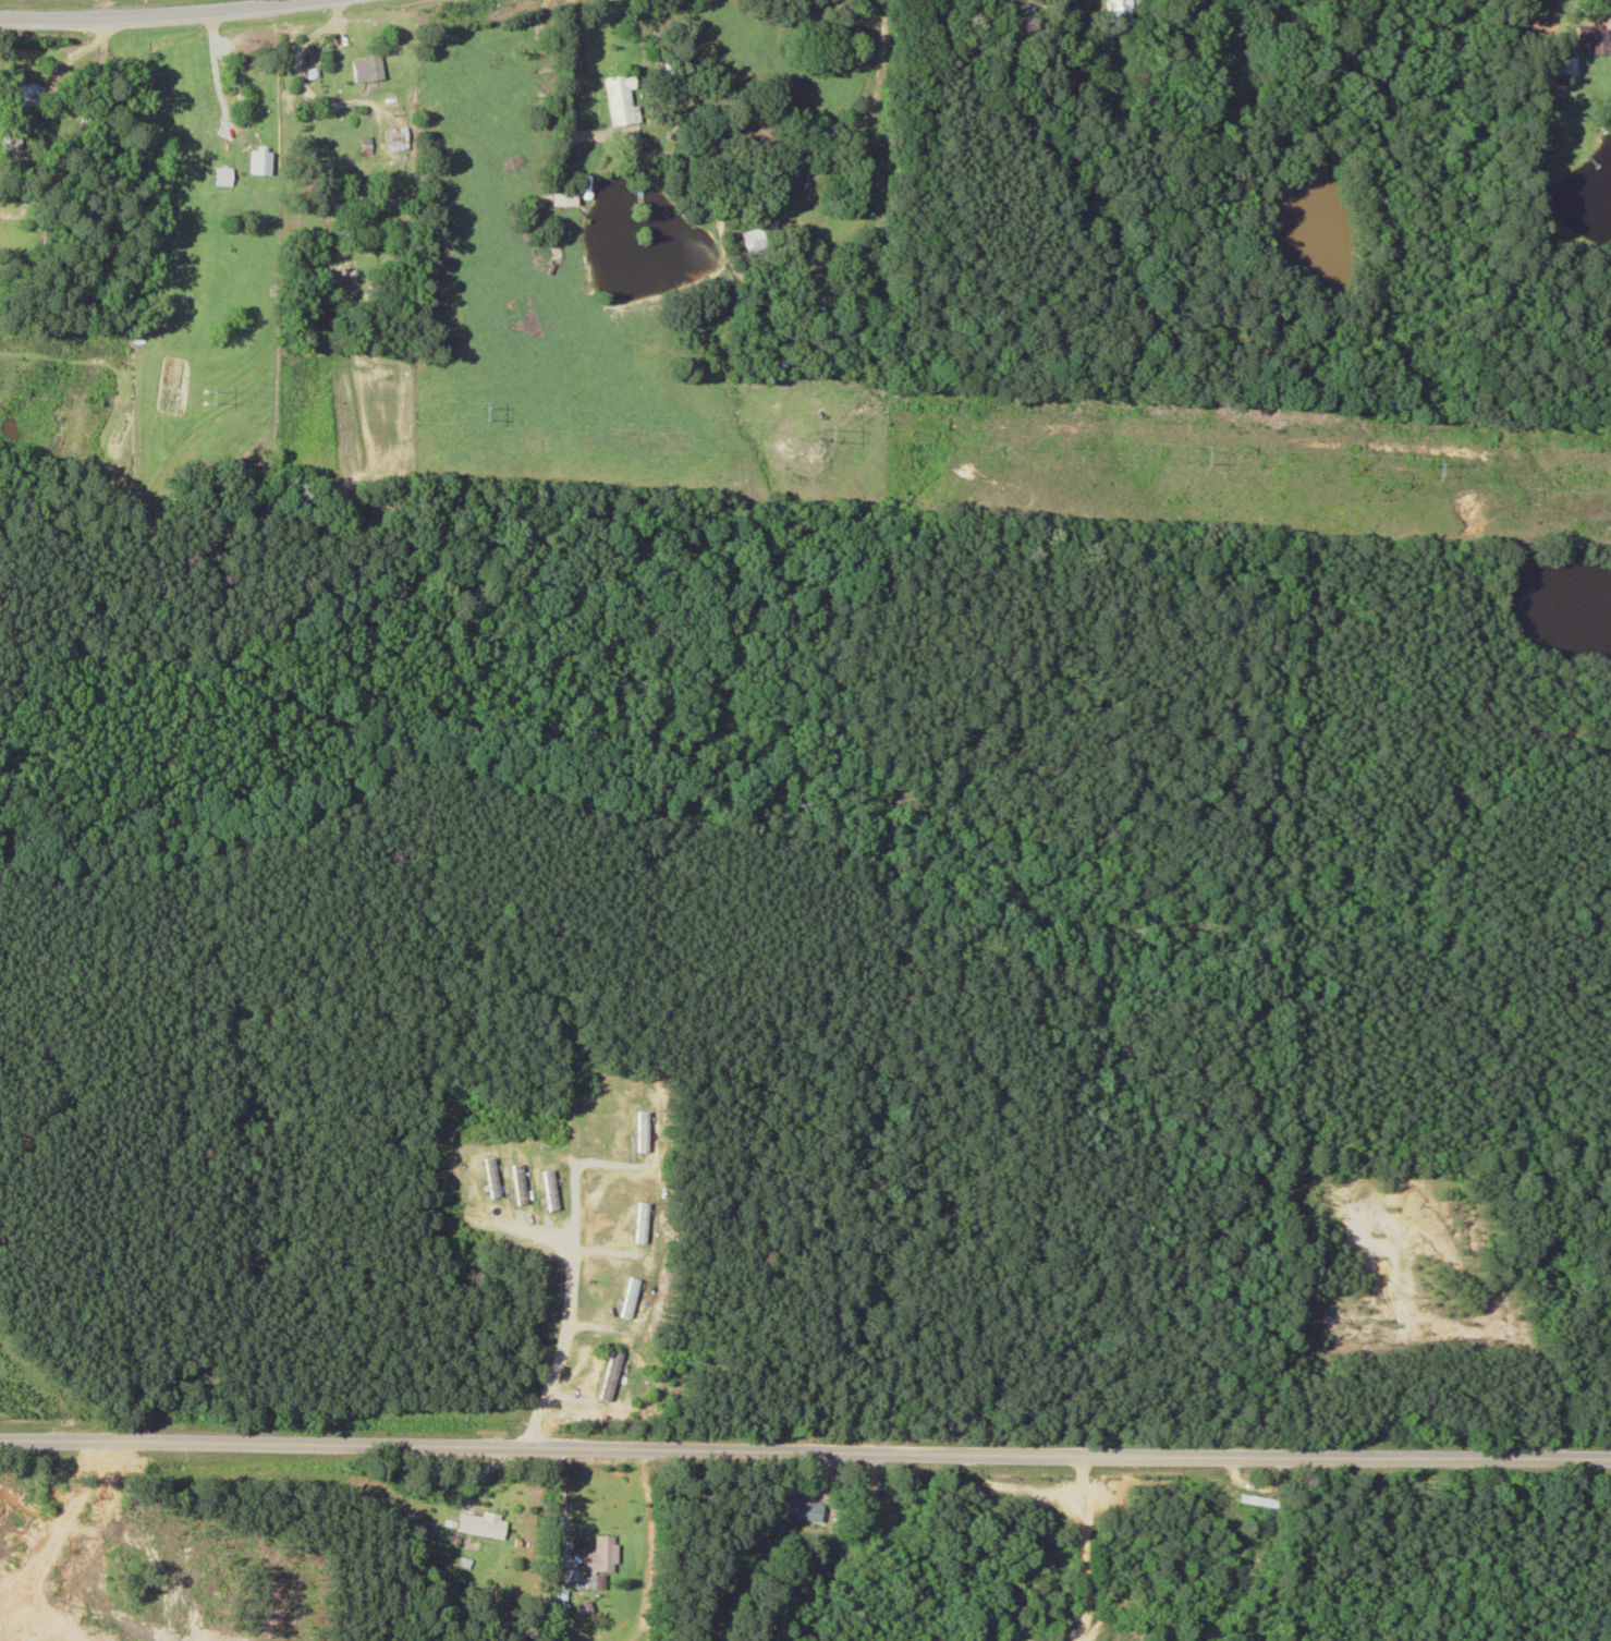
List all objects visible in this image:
road: (148, 13)
building: (1120, 14)
building: (1591, 39)
building: (668, 65)
building: (1563, 66)
building: (367, 69)
building: (25, 94)
building: (621, 100)
building: (396, 139)
building: (265, 158)
building: (696, 167)
building: (222, 177)
building: (564, 199)
building: (760, 238)
building: (610, 1375)
road: (805, 1431)
building: (792, 1510)
building: (1258, 1518)
building: (490, 1525)
building: (853, 1525)
road: (448, 1530)
building: (603, 1554)

